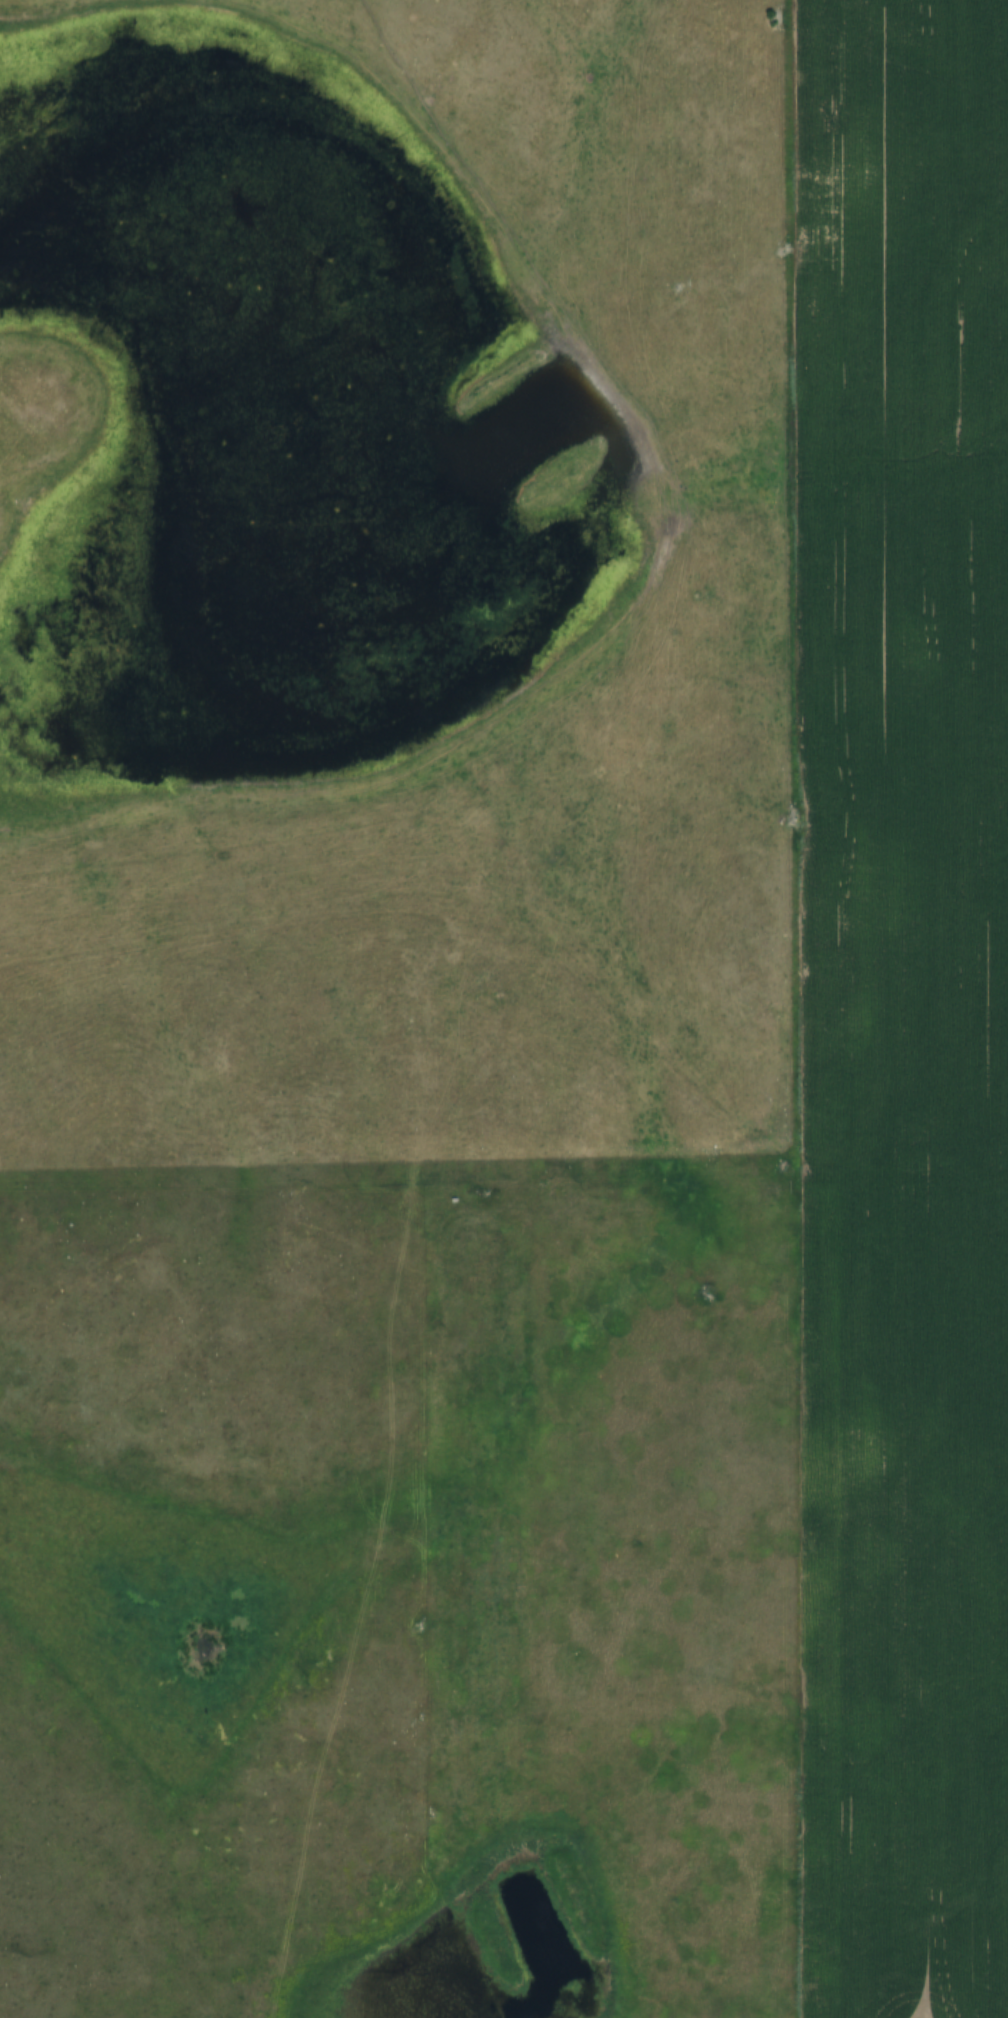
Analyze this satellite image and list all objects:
road: (906, 1156)

